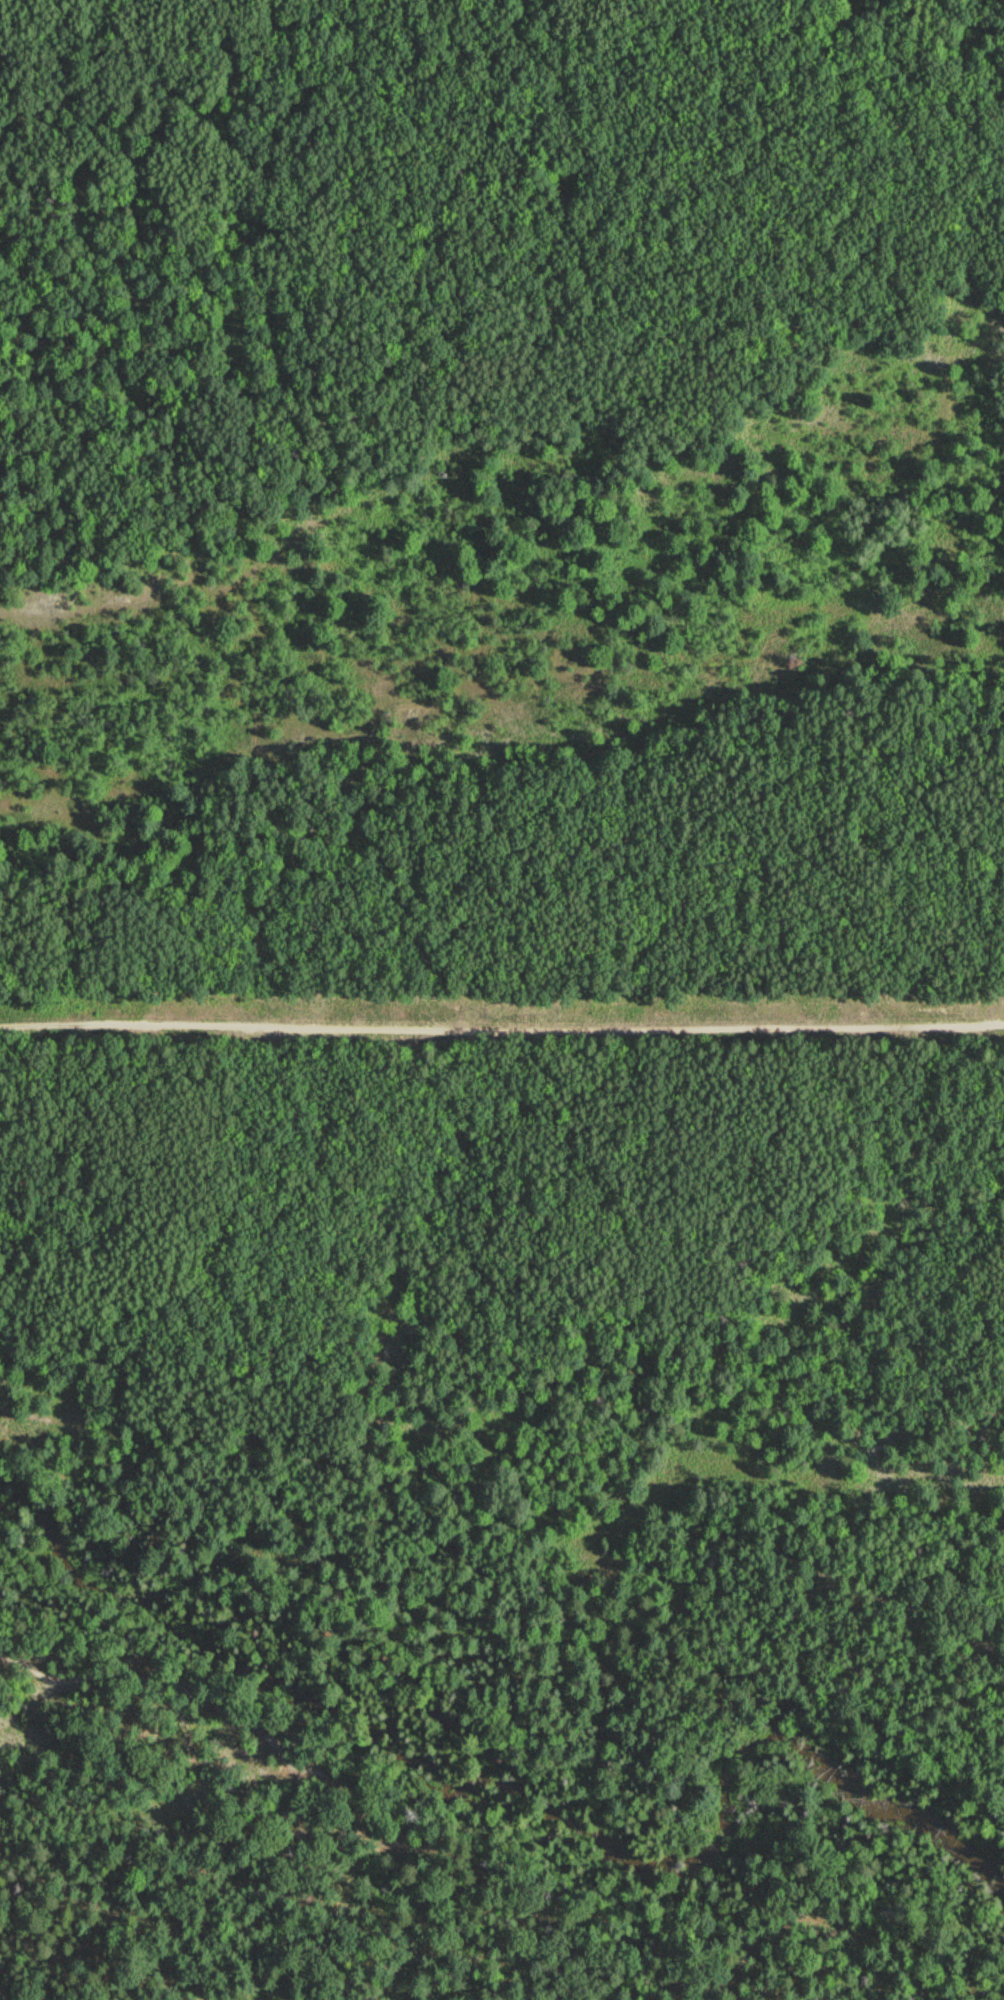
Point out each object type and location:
road: (254, 918)
road: (501, 1019)
road: (325, 1770)
road: (782, 1929)

